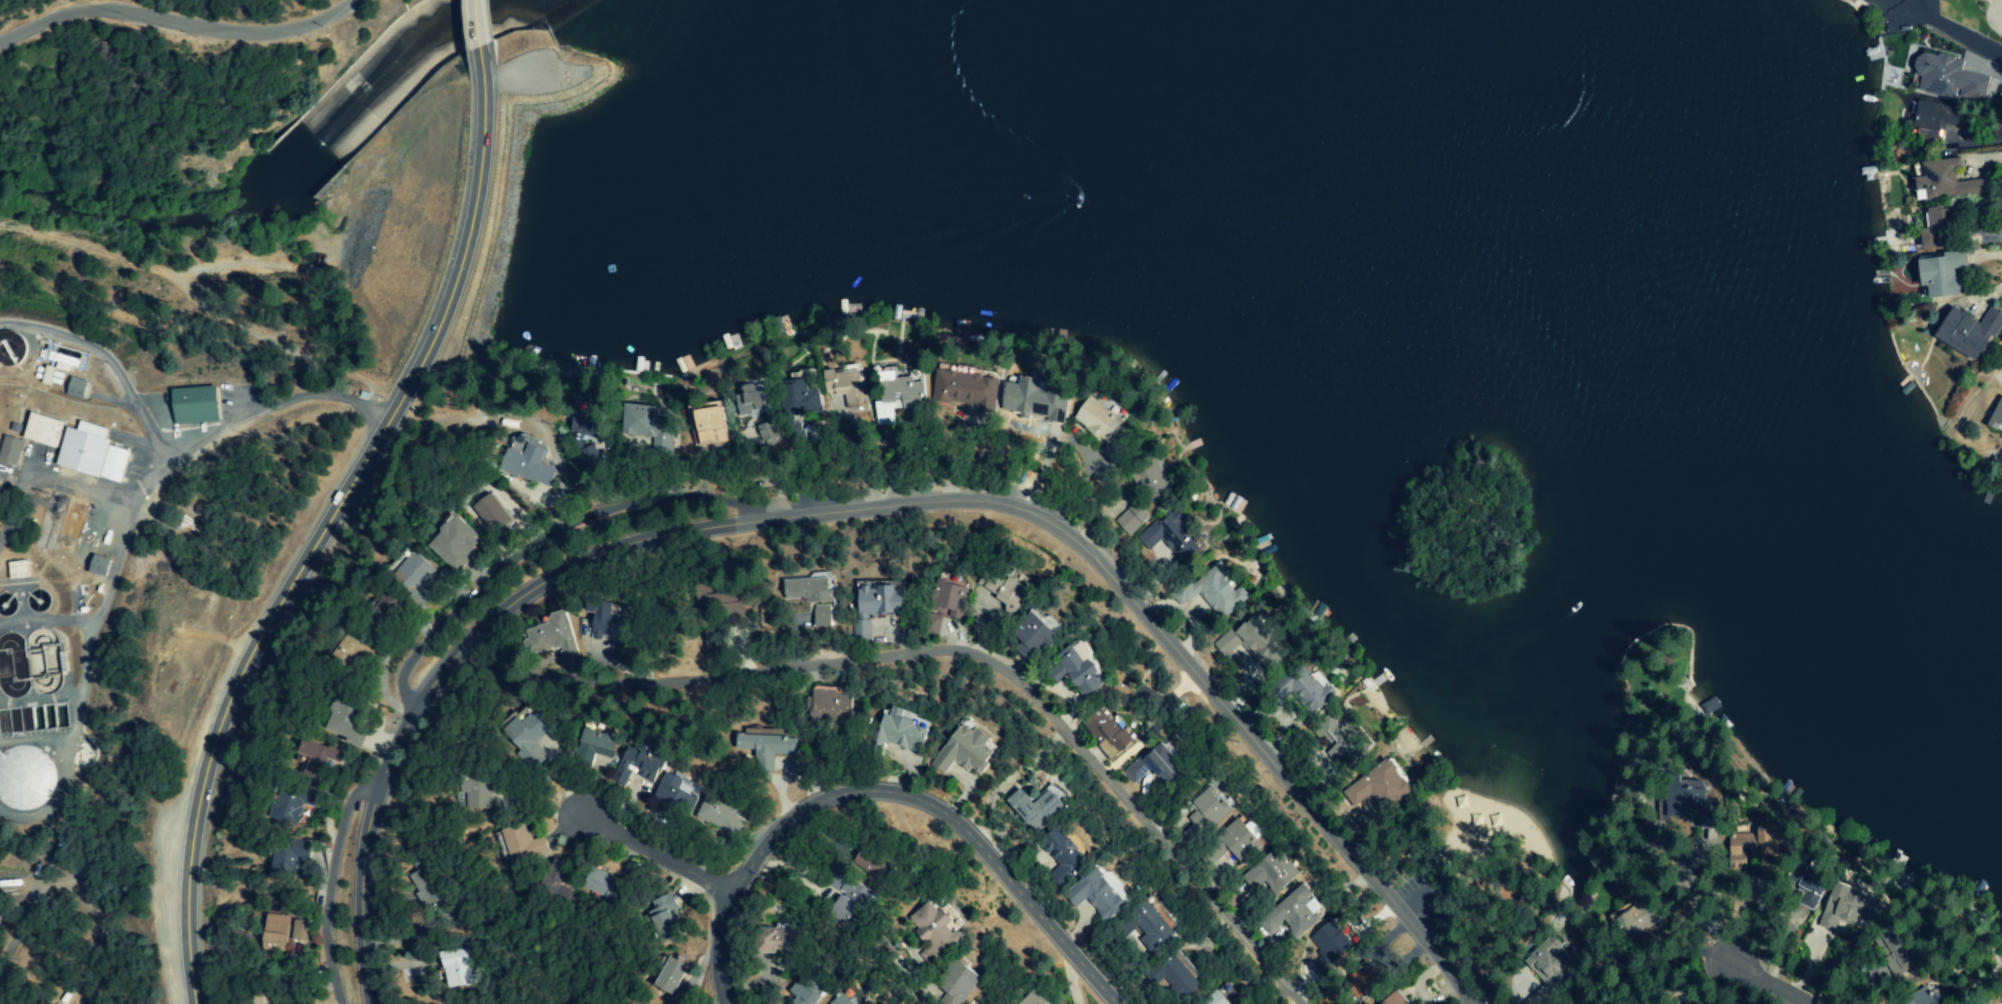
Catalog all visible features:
road: (175, 21)
road: (479, 25)
road: (1957, 35)
building: (1934, 75)
building: (1929, 119)
dam: (544, 130)
building: (1943, 183)
building: (1932, 229)
building: (1936, 275)
building: (1964, 331)
building: (77, 388)
building: (964, 388)
building: (800, 393)
building: (901, 395)
road: (322, 397)
building: (1036, 400)
building: (192, 404)
building: (1995, 416)
building: (587, 422)
building: (1101, 426)
building: (46, 430)
building: (767, 434)
building: (646, 438)
building: (11, 451)
building: (90, 452)
building: (593, 458)
building: (528, 465)
building: (1150, 478)
road: (856, 511)
building: (493, 514)
building: (1133, 518)
road: (330, 525)
wastewater plant: (71, 533)
building: (1173, 537)
building: (454, 543)
road: (531, 544)
building: (101, 566)
building: (18, 570)
building: (410, 574)
building: (1010, 588)
building: (1214, 589)
building: (732, 597)
building: (812, 597)
wastewater plant: (39, 599)
building: (949, 599)
building: (881, 601)
wastewater plant: (6, 602)
building: (717, 603)
building: (610, 627)
building: (861, 630)
building: (554, 637)
building: (1035, 637)
building: (1261, 643)
building: (1228, 647)
wastewater plant: (38, 658)
road: (933, 659)
wastewater plant: (6, 663)
building: (1080, 672)
building: (1303, 690)
building: (831, 705)
building: (348, 721)
building: (899, 731)
building: (1110, 733)
building: (531, 738)
building: (1342, 738)
building: (767, 747)
building: (965, 748)
building: (318, 757)
wastewater plant: (26, 760)
building: (1158, 764)
building: (638, 766)
building: (26, 778)
building: (1381, 787)
building: (484, 789)
building: (677, 791)
road: (882, 794)
building: (293, 802)
building: (1038, 805)
building: (1205, 812)
building: (721, 818)
building: (1731, 828)
building: (1241, 840)
building: (1735, 841)
building: (522, 844)
building: (1756, 848)
road: (650, 851)
building: (1062, 855)
building: (287, 861)
building: (1271, 872)
building: (556, 879)
road: (315, 885)
building: (601, 885)
building: (1801, 890)
building: (1099, 892)
building: (429, 895)
building: (855, 899)
building: (1834, 907)
building: (1294, 914)
building: (667, 917)
building: (1151, 923)
building: (298, 930)
building: (274, 932)
building: (942, 932)
building: (783, 944)
building: (1330, 945)
building: (455, 967)
building: (673, 976)
building: (1176, 977)
building: (1364, 980)
road: (1763, 980)
building: (964, 984)
building: (814, 992)
building: (1225, 997)
building: (849, 999)
building: (1394, 999)

